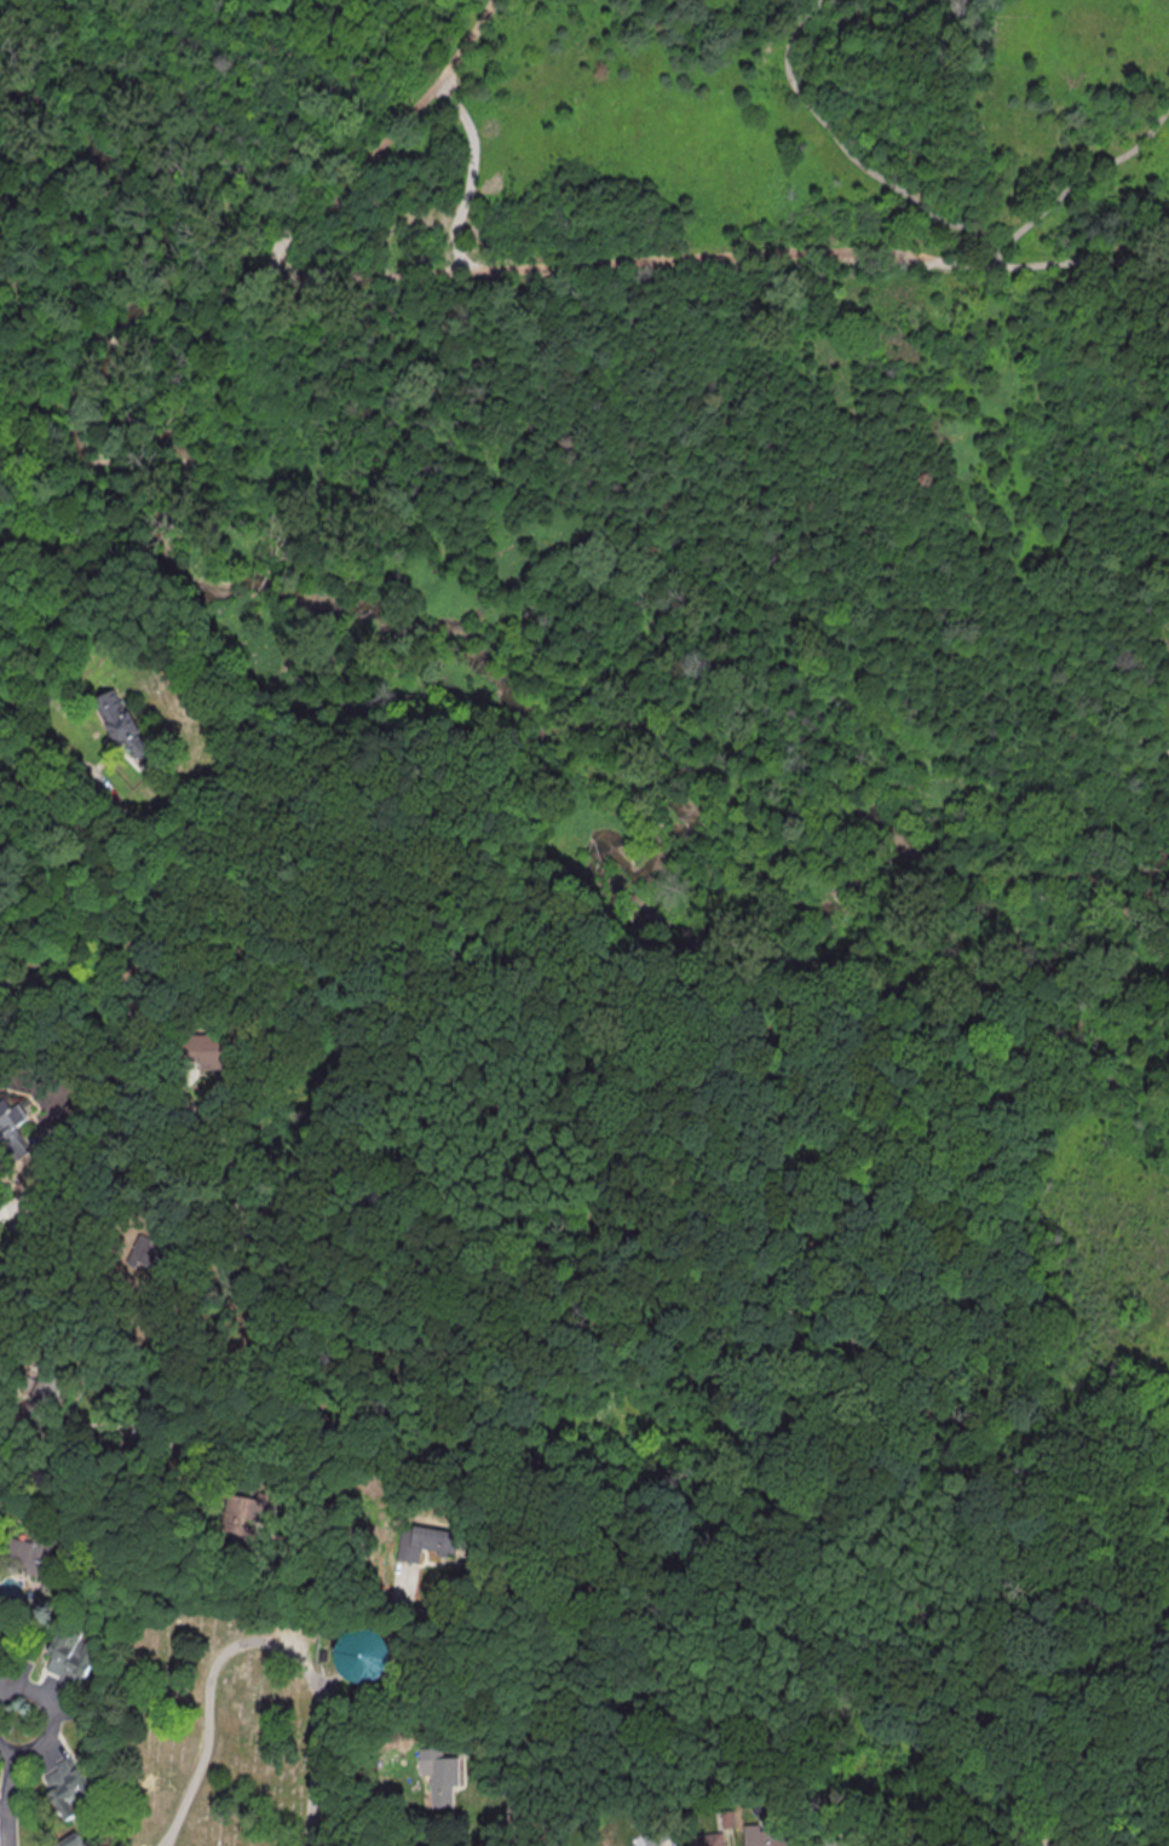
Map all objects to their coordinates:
road: (893, 97)
road: (382, 142)
road: (845, 150)
road: (467, 179)
road: (1083, 179)
road: (47, 255)
road: (992, 258)
road: (638, 264)
road: (1164, 299)
road: (113, 341)
road: (46, 368)
park: (623, 468)
road: (703, 498)
building: (156, 626)
road: (145, 640)
road: (985, 688)
river: (622, 721)
road: (1088, 725)
building: (126, 729)
road: (116, 749)
road: (108, 755)
road: (131, 757)
road: (131, 763)
road: (111, 801)
road: (52, 938)
road: (110, 976)
road: (56, 978)
building: (213, 1042)
road: (180, 1076)
building: (10, 1129)
road: (40, 1137)
road: (56, 1145)
road: (11, 1206)
building: (148, 1254)
road: (155, 1288)
building: (161, 1317)
road: (179, 1324)
building: (36, 1398)
road: (289, 1399)
road: (90, 1428)
road: (31, 1445)
building: (246, 1506)
road: (292, 1540)
building: (421, 1541)
building: (27, 1554)
road: (255, 1565)
road: (401, 1585)
road: (203, 1588)
road: (255, 1644)
building: (363, 1655)
water tower: (369, 1658)
park: (223, 1724)
building: (439, 1775)
road: (8, 1783)
building: (68, 1785)
building: (767, 1834)
parking lot: (163, 1839)
building: (707, 1839)
building: (650, 1840)
building: (70, 1841)
building: (829, 1844)

